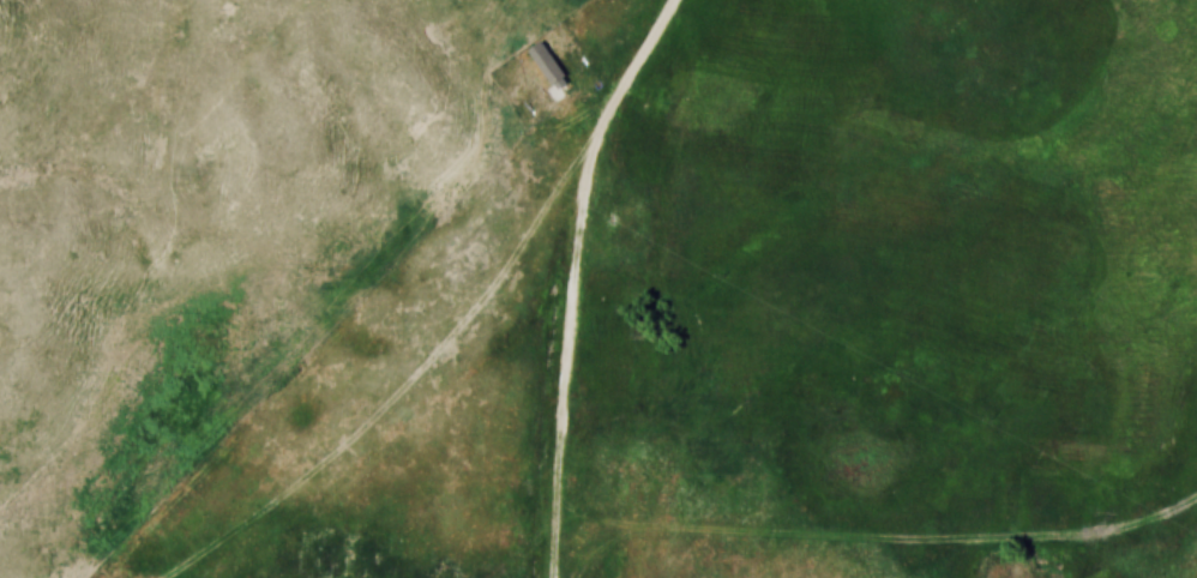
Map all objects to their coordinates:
building: (548, 66)
road: (575, 277)

